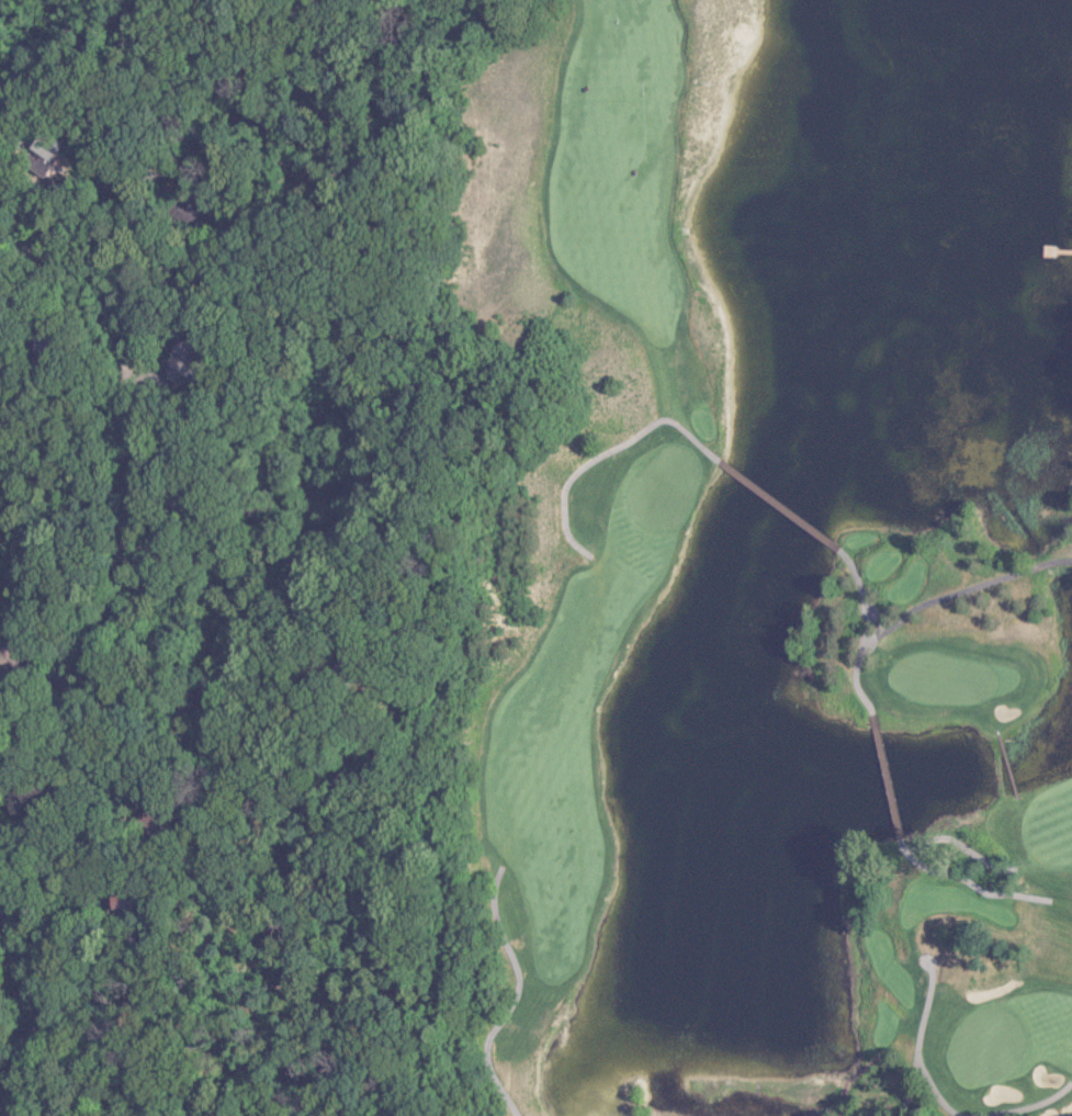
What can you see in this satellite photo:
road: (45, 30)
road: (11, 74)
building: (192, 359)
road: (595, 447)
road: (111, 499)
road: (766, 500)
park: (731, 560)
road: (857, 593)
road: (926, 602)
park: (934, 678)
road: (1002, 764)
road: (880, 776)
road: (955, 845)
road: (963, 882)
road: (503, 993)
road: (16, 1022)
park: (980, 1045)
road: (843, 1079)
road: (905, 1082)
road: (926, 1087)

